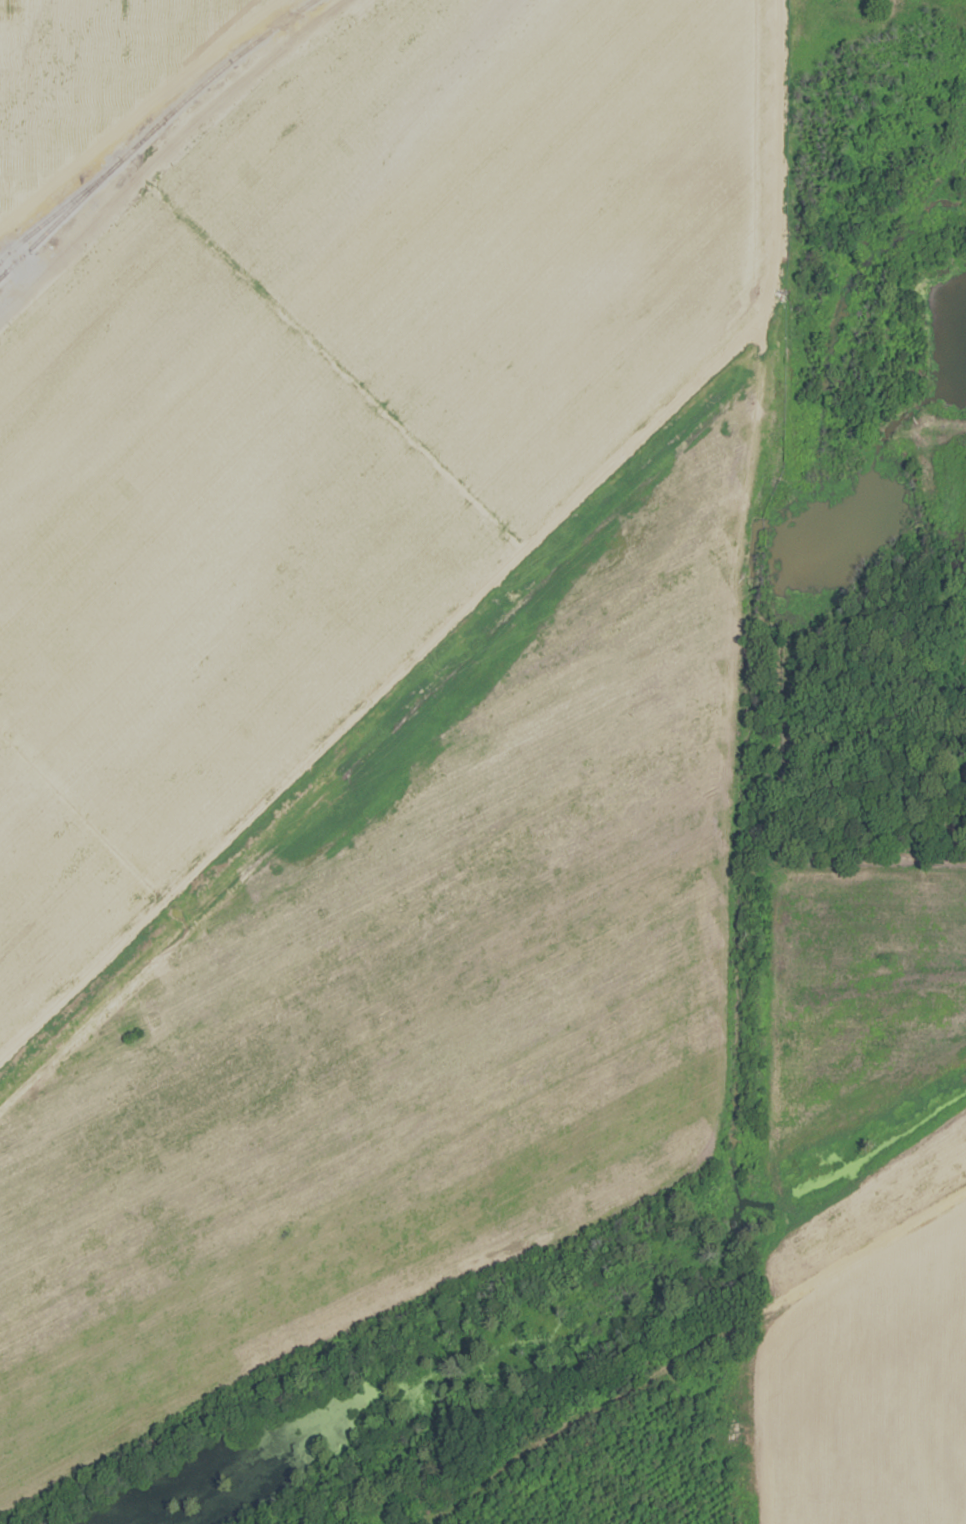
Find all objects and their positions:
road: (292, 21)
crop: (85, 69)
road: (137, 108)
railway: (149, 129)
road: (162, 159)
railway: (50, 217)
road: (694, 1352)

